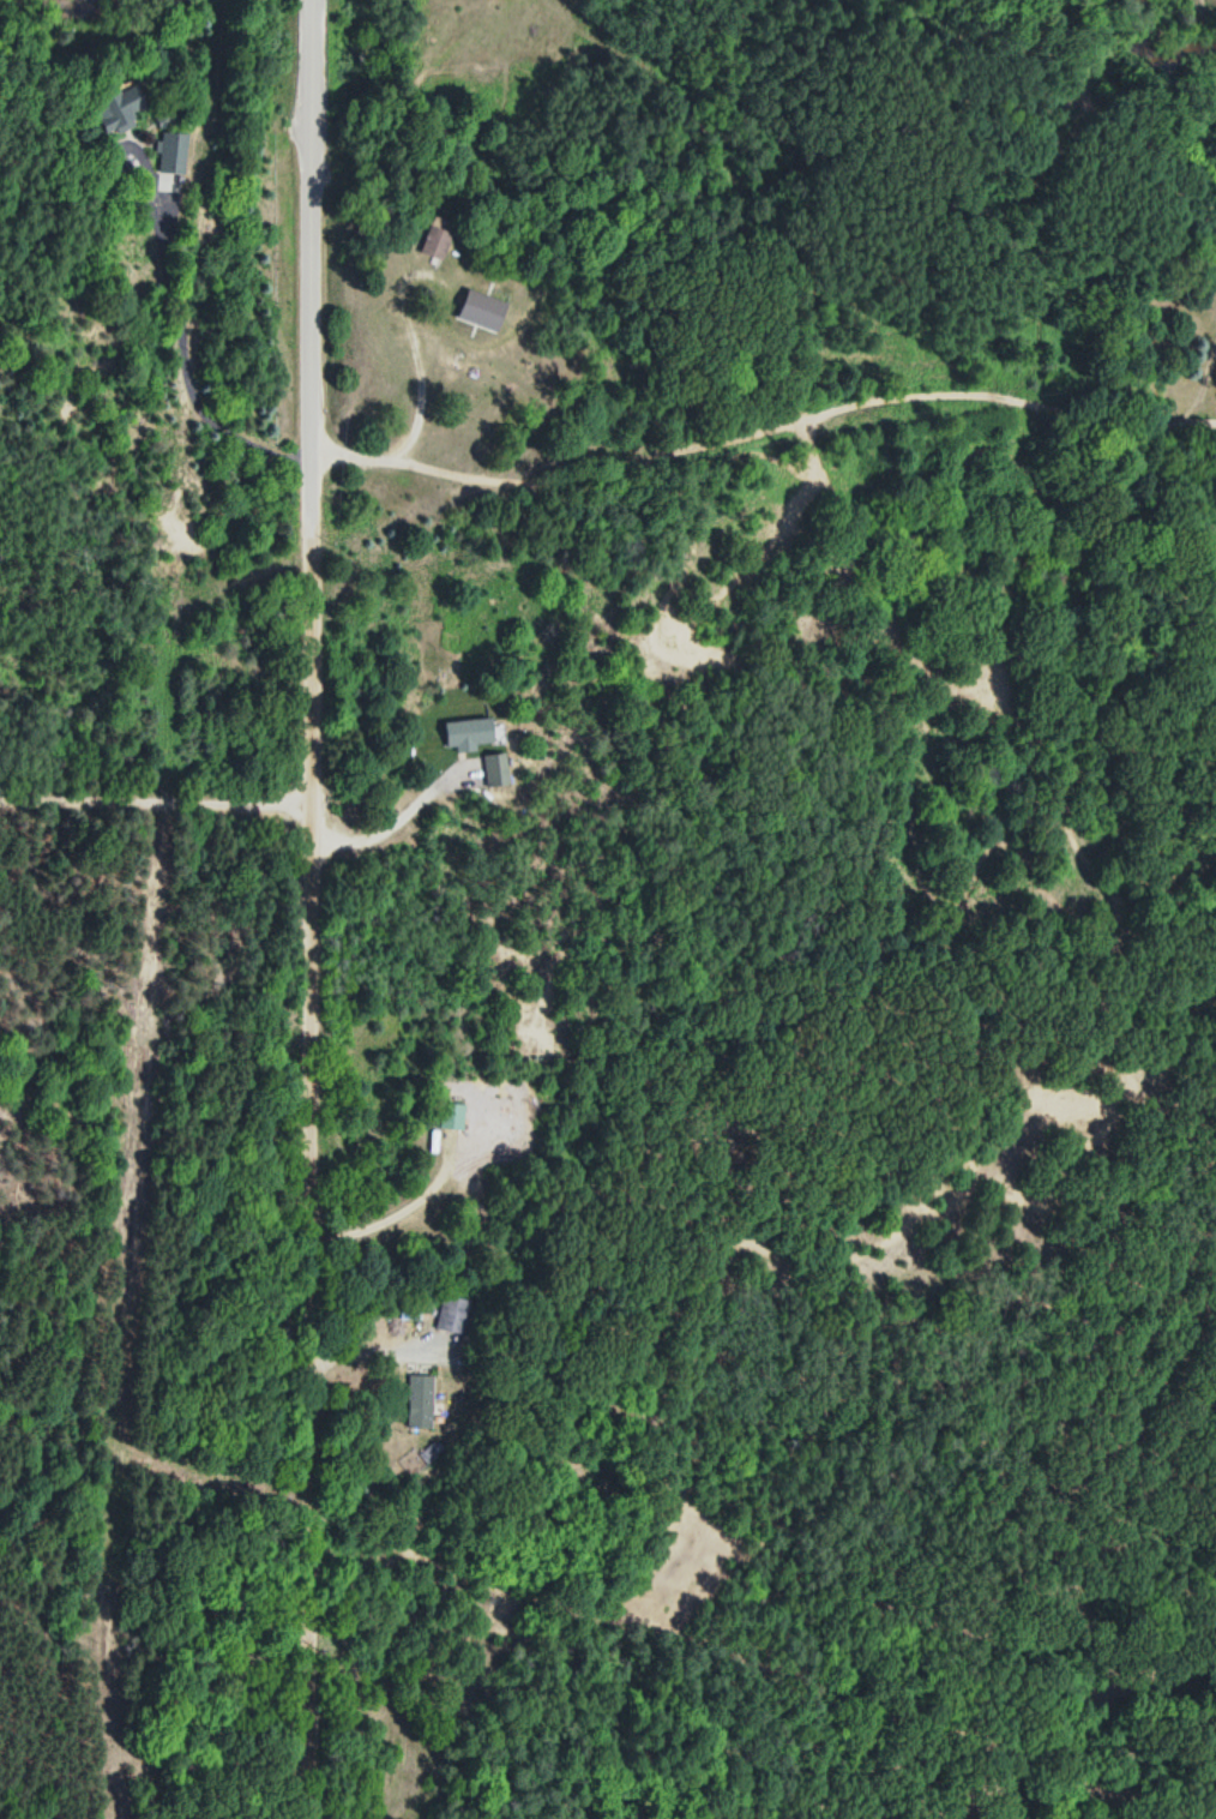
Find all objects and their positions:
river: (1154, 60)
building: (114, 107)
building: (177, 152)
building: (433, 241)
road: (155, 314)
road: (761, 407)
building: (498, 769)
road: (283, 908)
building: (450, 1115)
building: (421, 1140)
building: (451, 1314)
building: (419, 1400)
building: (306, 1634)

